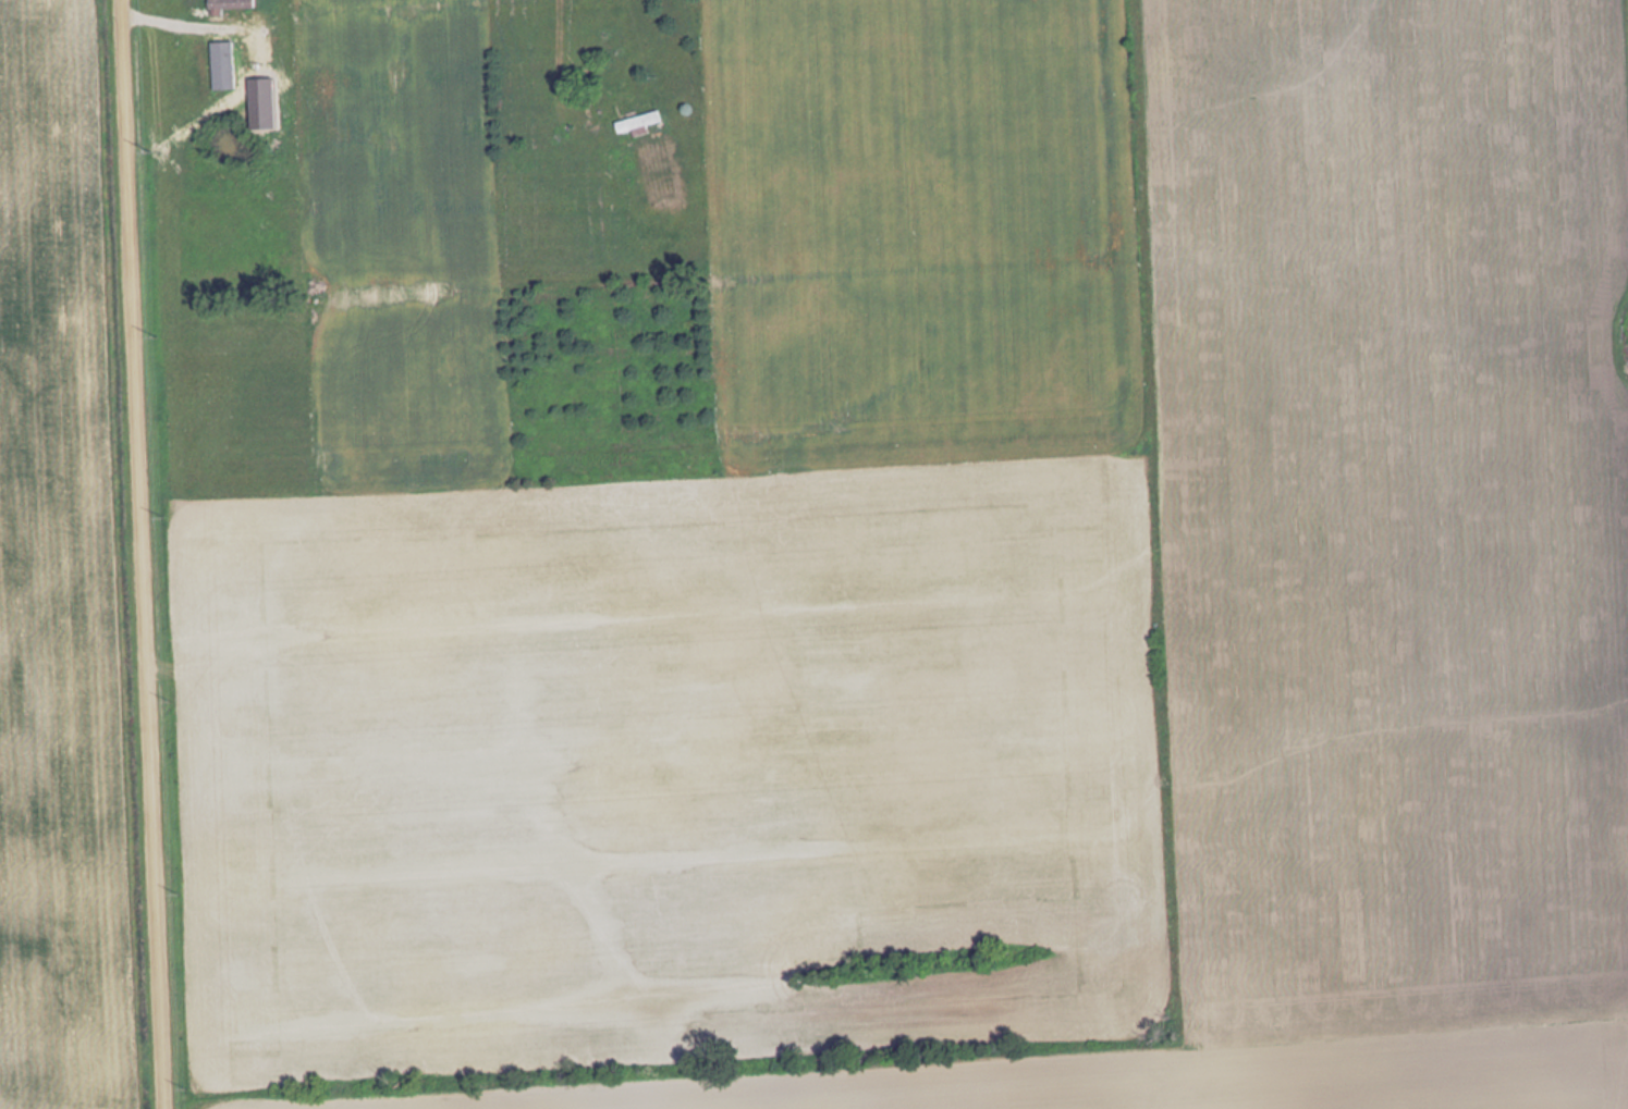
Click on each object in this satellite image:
building: (233, 7)
building: (224, 65)
building: (640, 124)
road: (137, 554)

